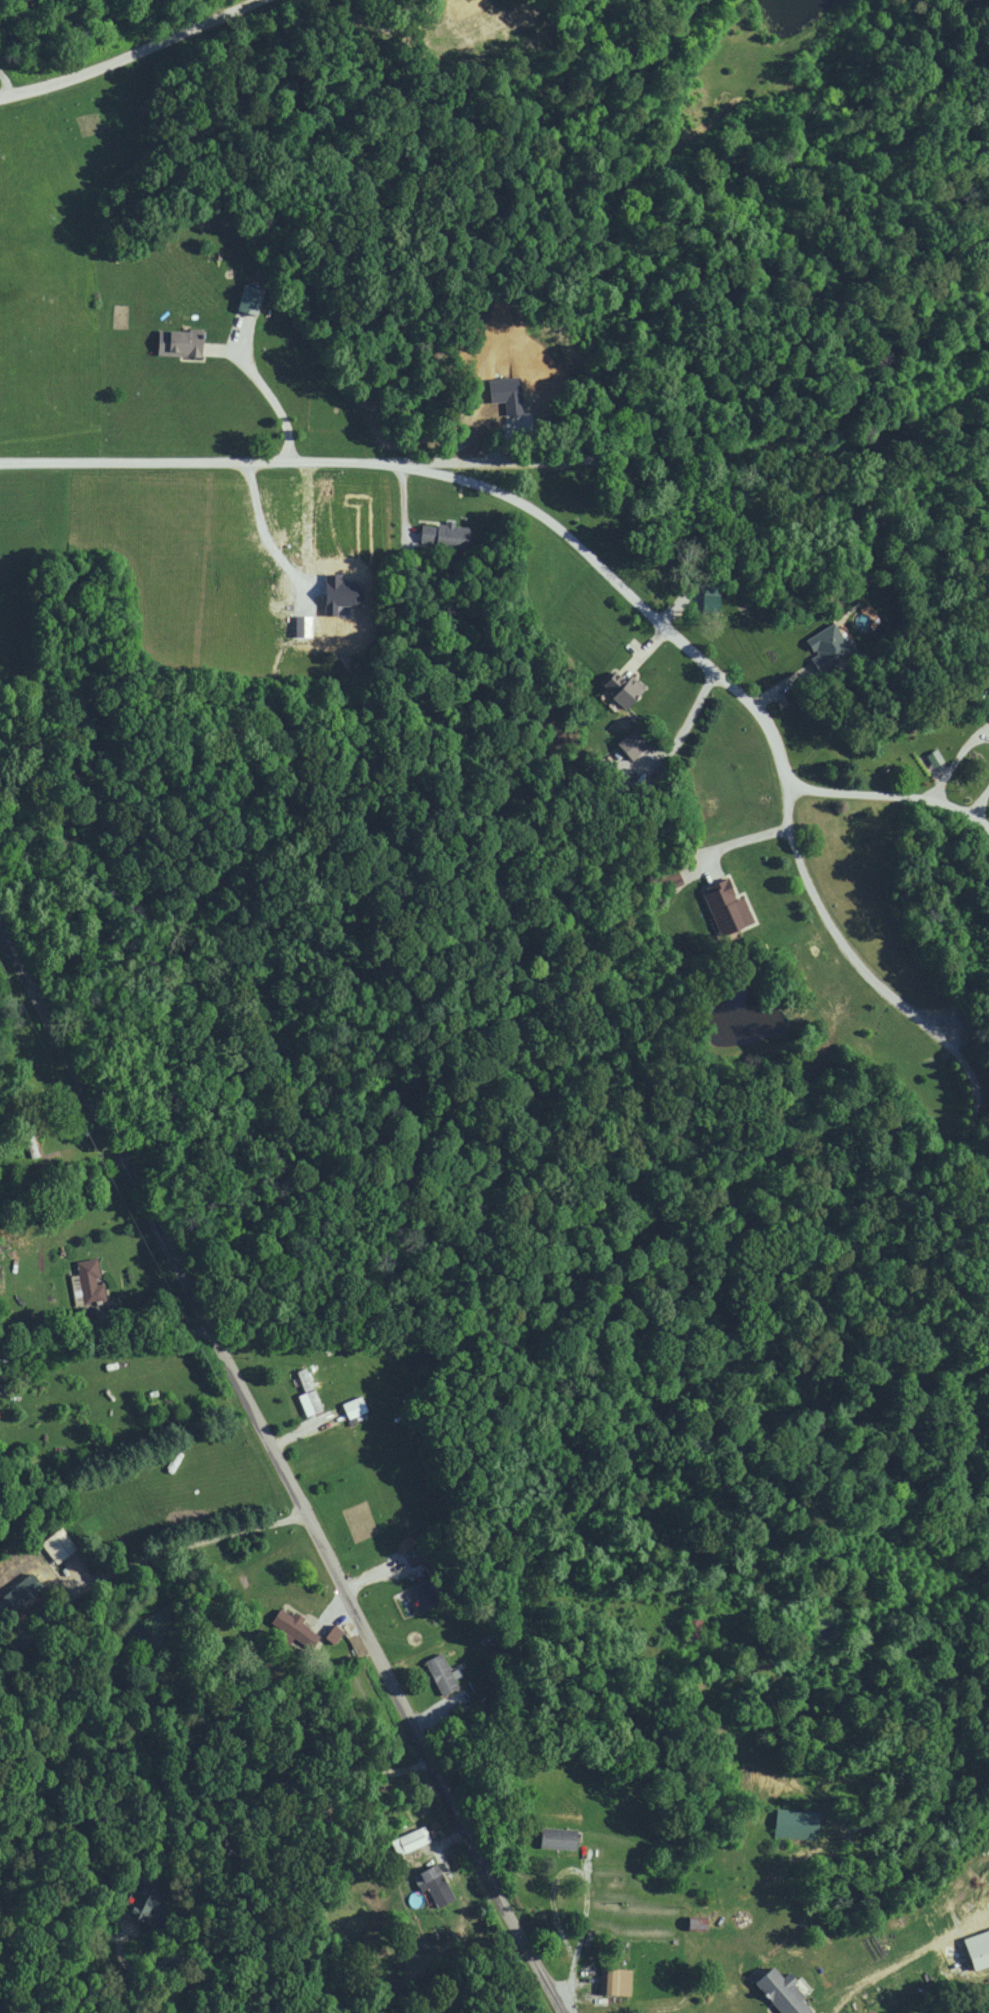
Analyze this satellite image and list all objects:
road: (129, 52)
building: (245, 299)
building: (174, 342)
road: (271, 396)
building: (441, 535)
road: (601, 565)
building: (705, 596)
building: (824, 646)
building: (617, 687)
building: (987, 714)
building: (628, 744)
building: (931, 757)
road: (891, 797)
road: (738, 841)
building: (722, 906)
road: (966, 1141)
building: (87, 1280)
road: (107, 1333)
building: (305, 1393)
building: (350, 1407)
road: (281, 1470)
road: (196, 1543)
building: (60, 1546)
building: (22, 1591)
building: (420, 1593)
building: (291, 1627)
building: (330, 1633)
building: (438, 1672)
building: (793, 1823)
building: (553, 1837)
building: (409, 1840)
road: (248, 1860)
building: (431, 1883)
building: (144, 1905)
building: (692, 1921)
road: (690, 1947)
building: (976, 1948)
building: (612, 1980)
building: (778, 1992)

